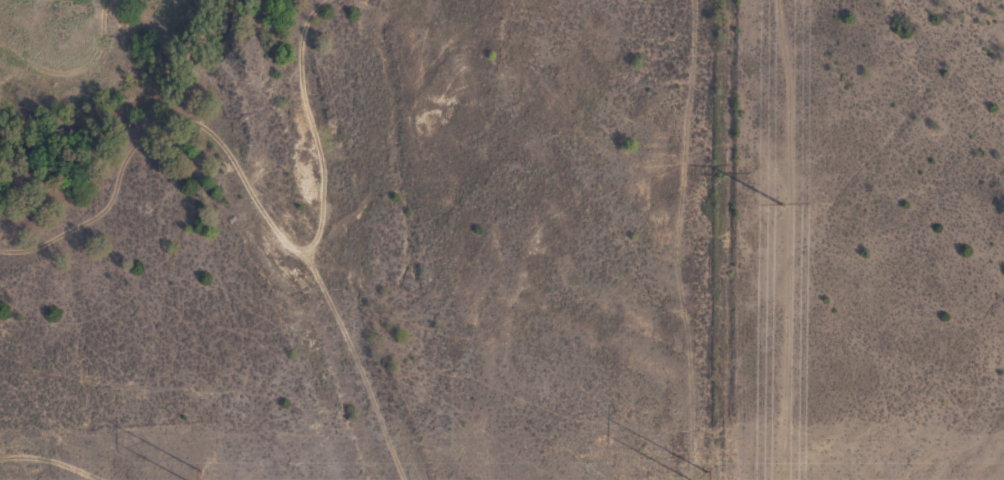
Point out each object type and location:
power tower: (782, 204)
railway: (303, 240)
crop: (502, 240)
power tower: (200, 477)
power tower: (704, 477)

